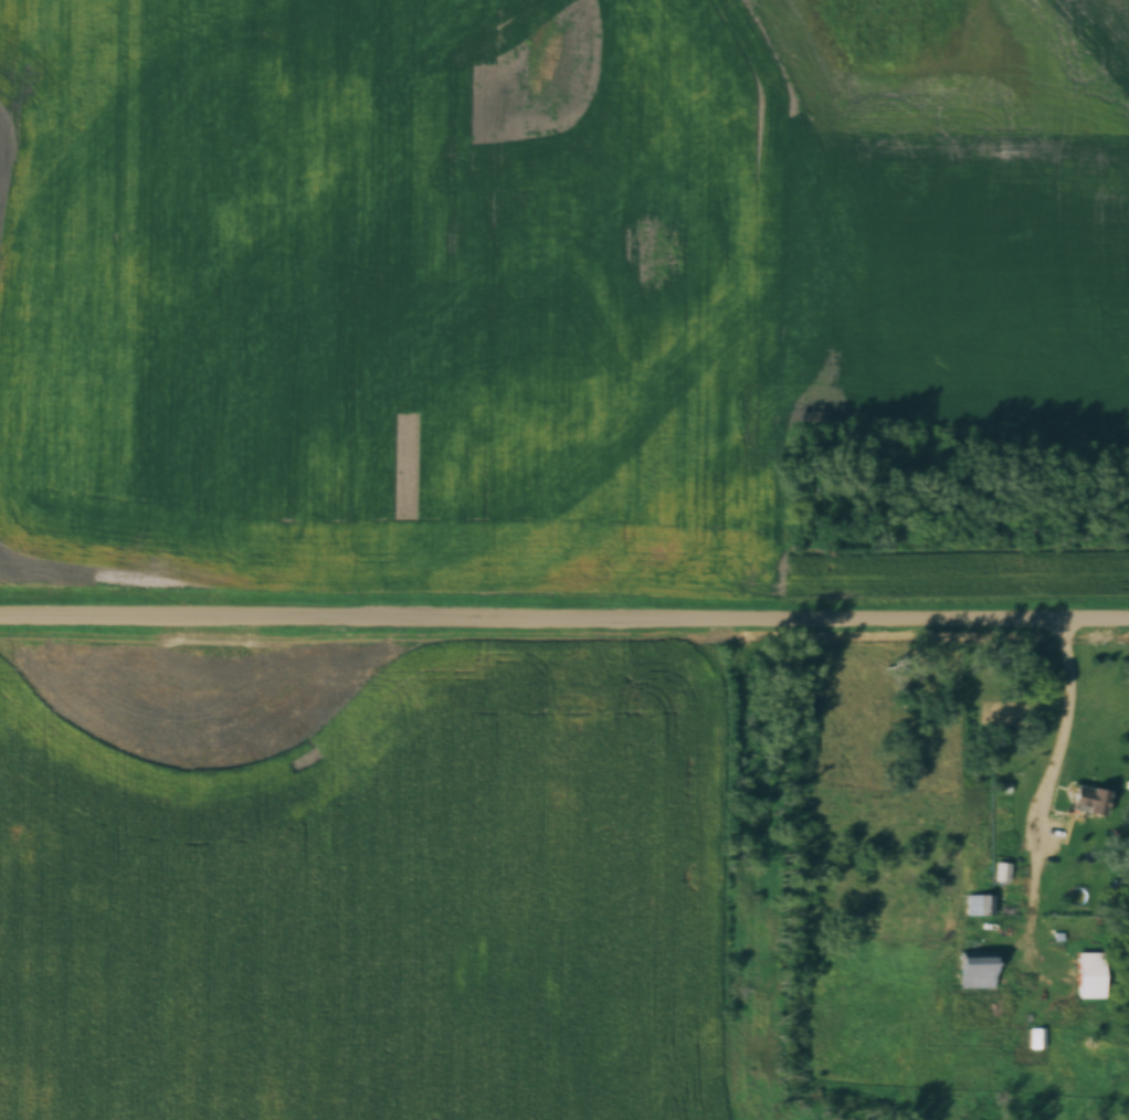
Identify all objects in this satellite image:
road: (564, 617)
building: (1086, 801)
building: (979, 906)
building: (972, 965)

